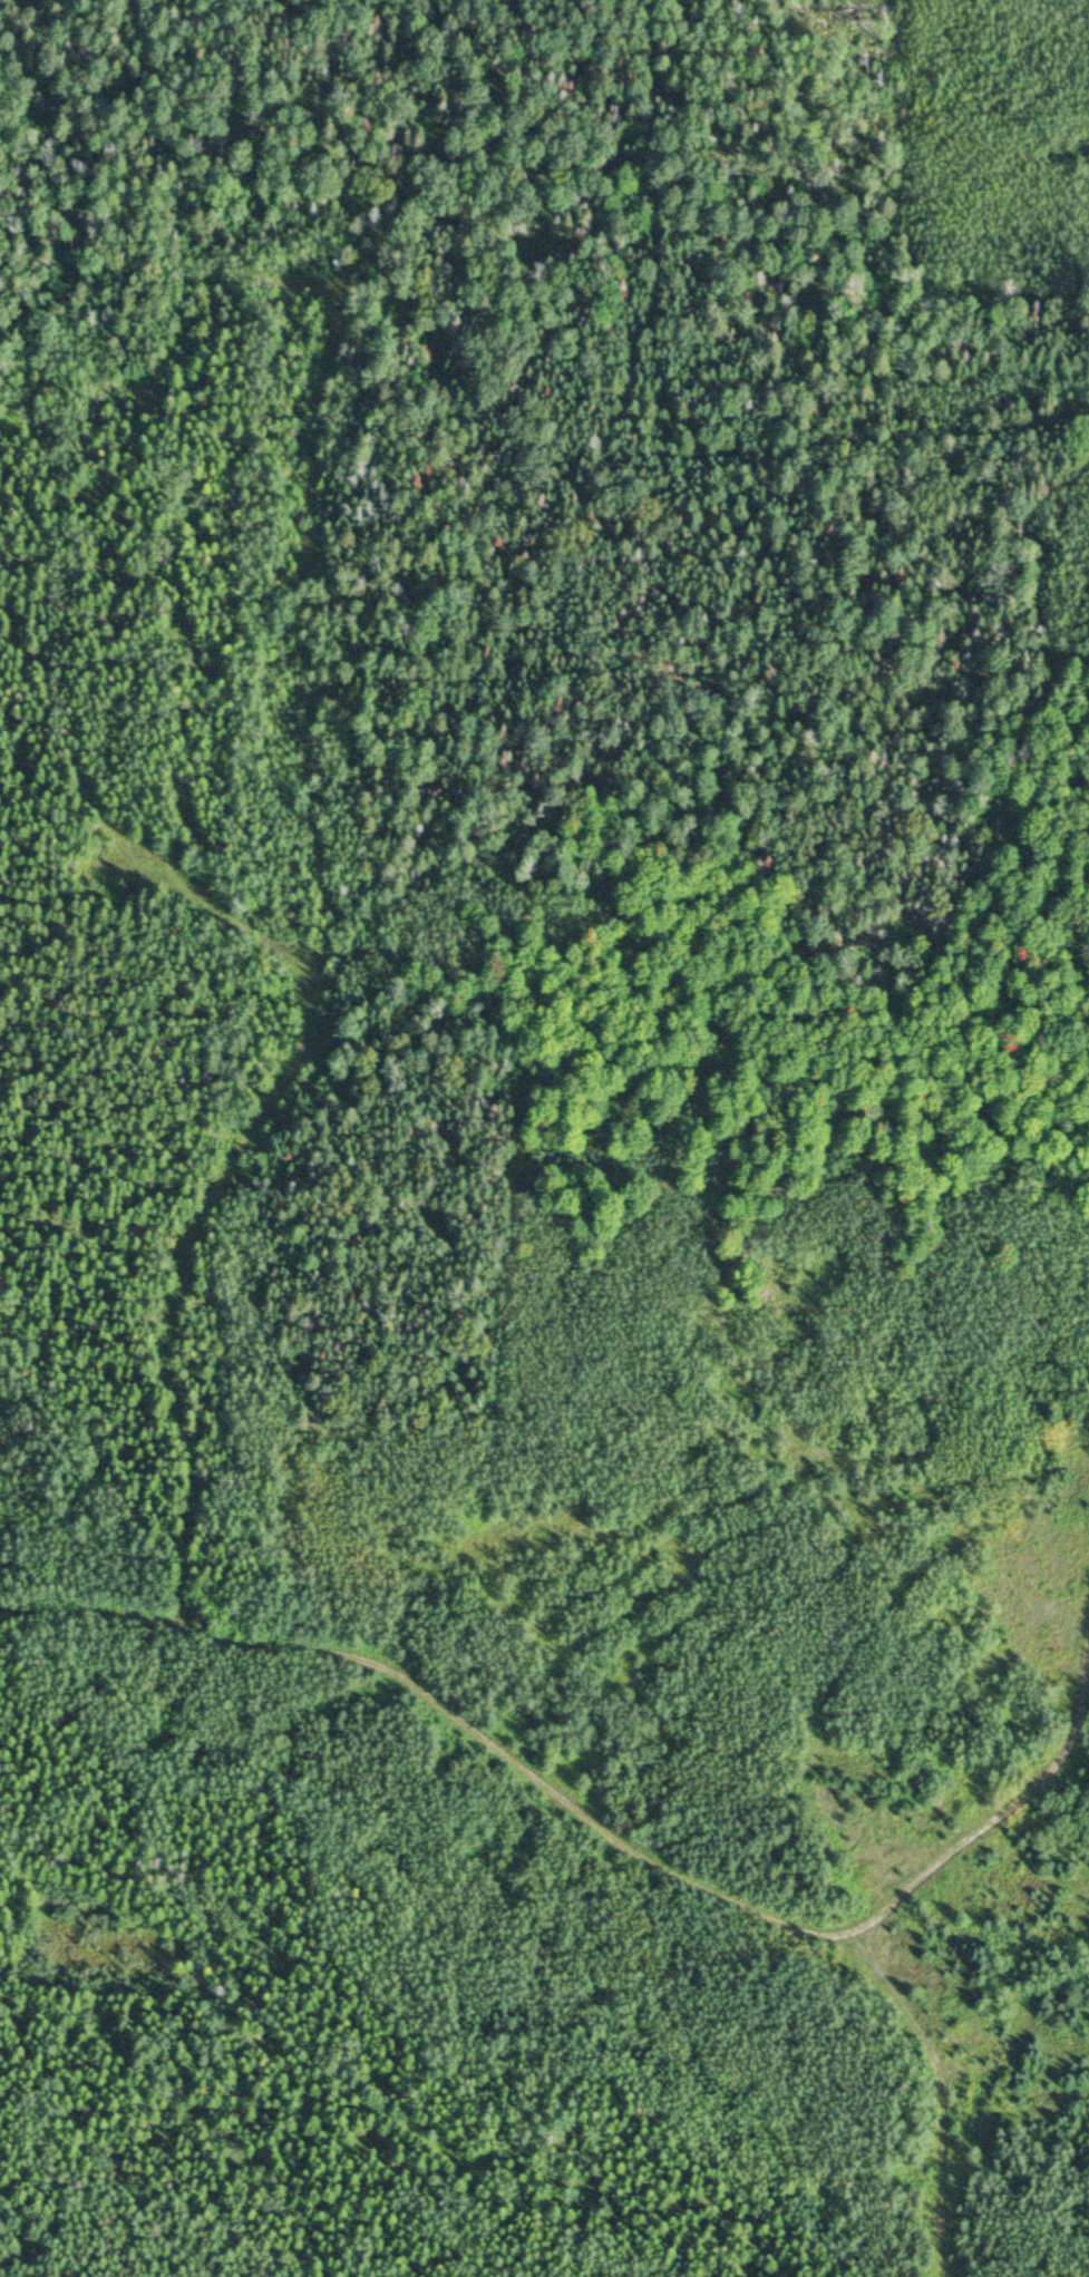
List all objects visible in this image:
road: (1028, 1782)

